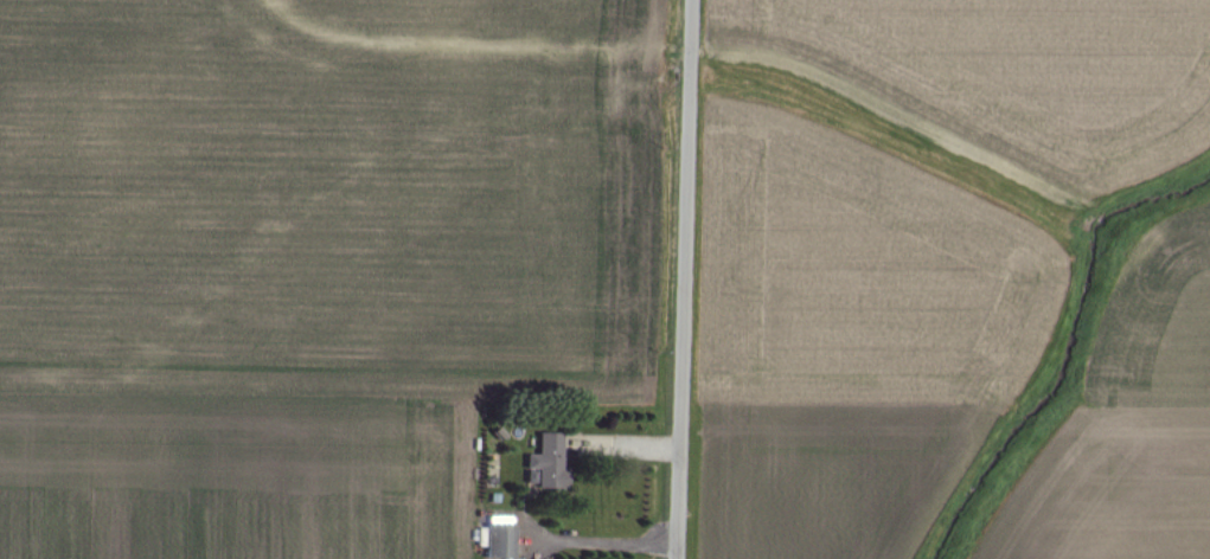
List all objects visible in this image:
road: (673, 279)

